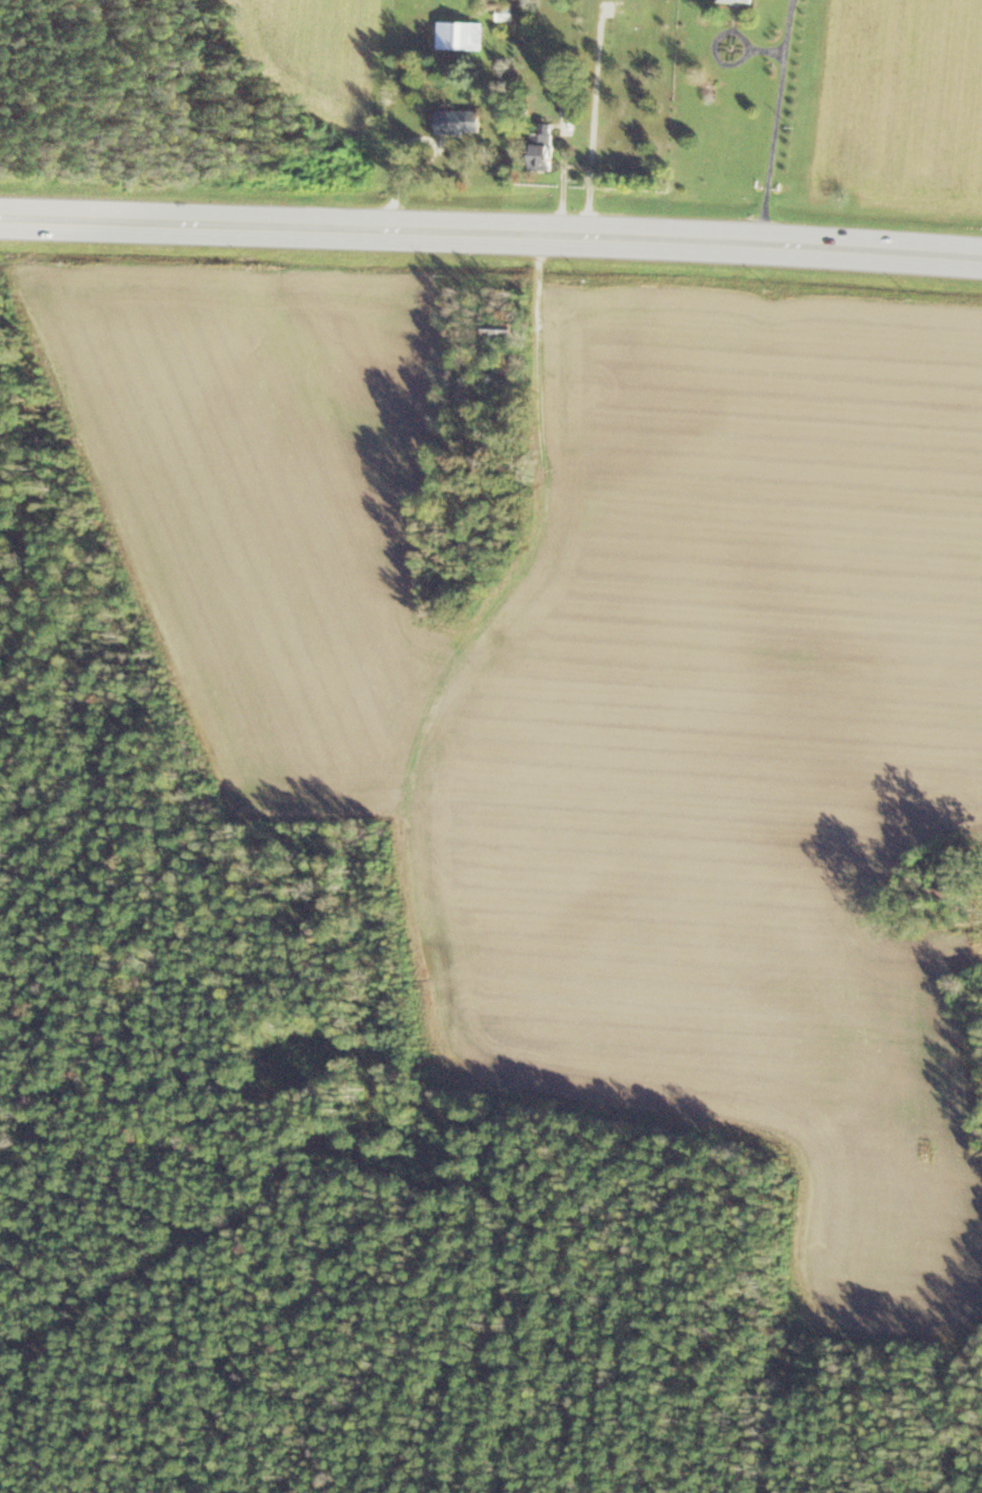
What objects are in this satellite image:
building: (736, 0)
building: (504, 12)
building: (458, 34)
building: (455, 121)
road: (594, 121)
road: (777, 122)
building: (539, 150)
road: (491, 232)
building: (495, 327)

